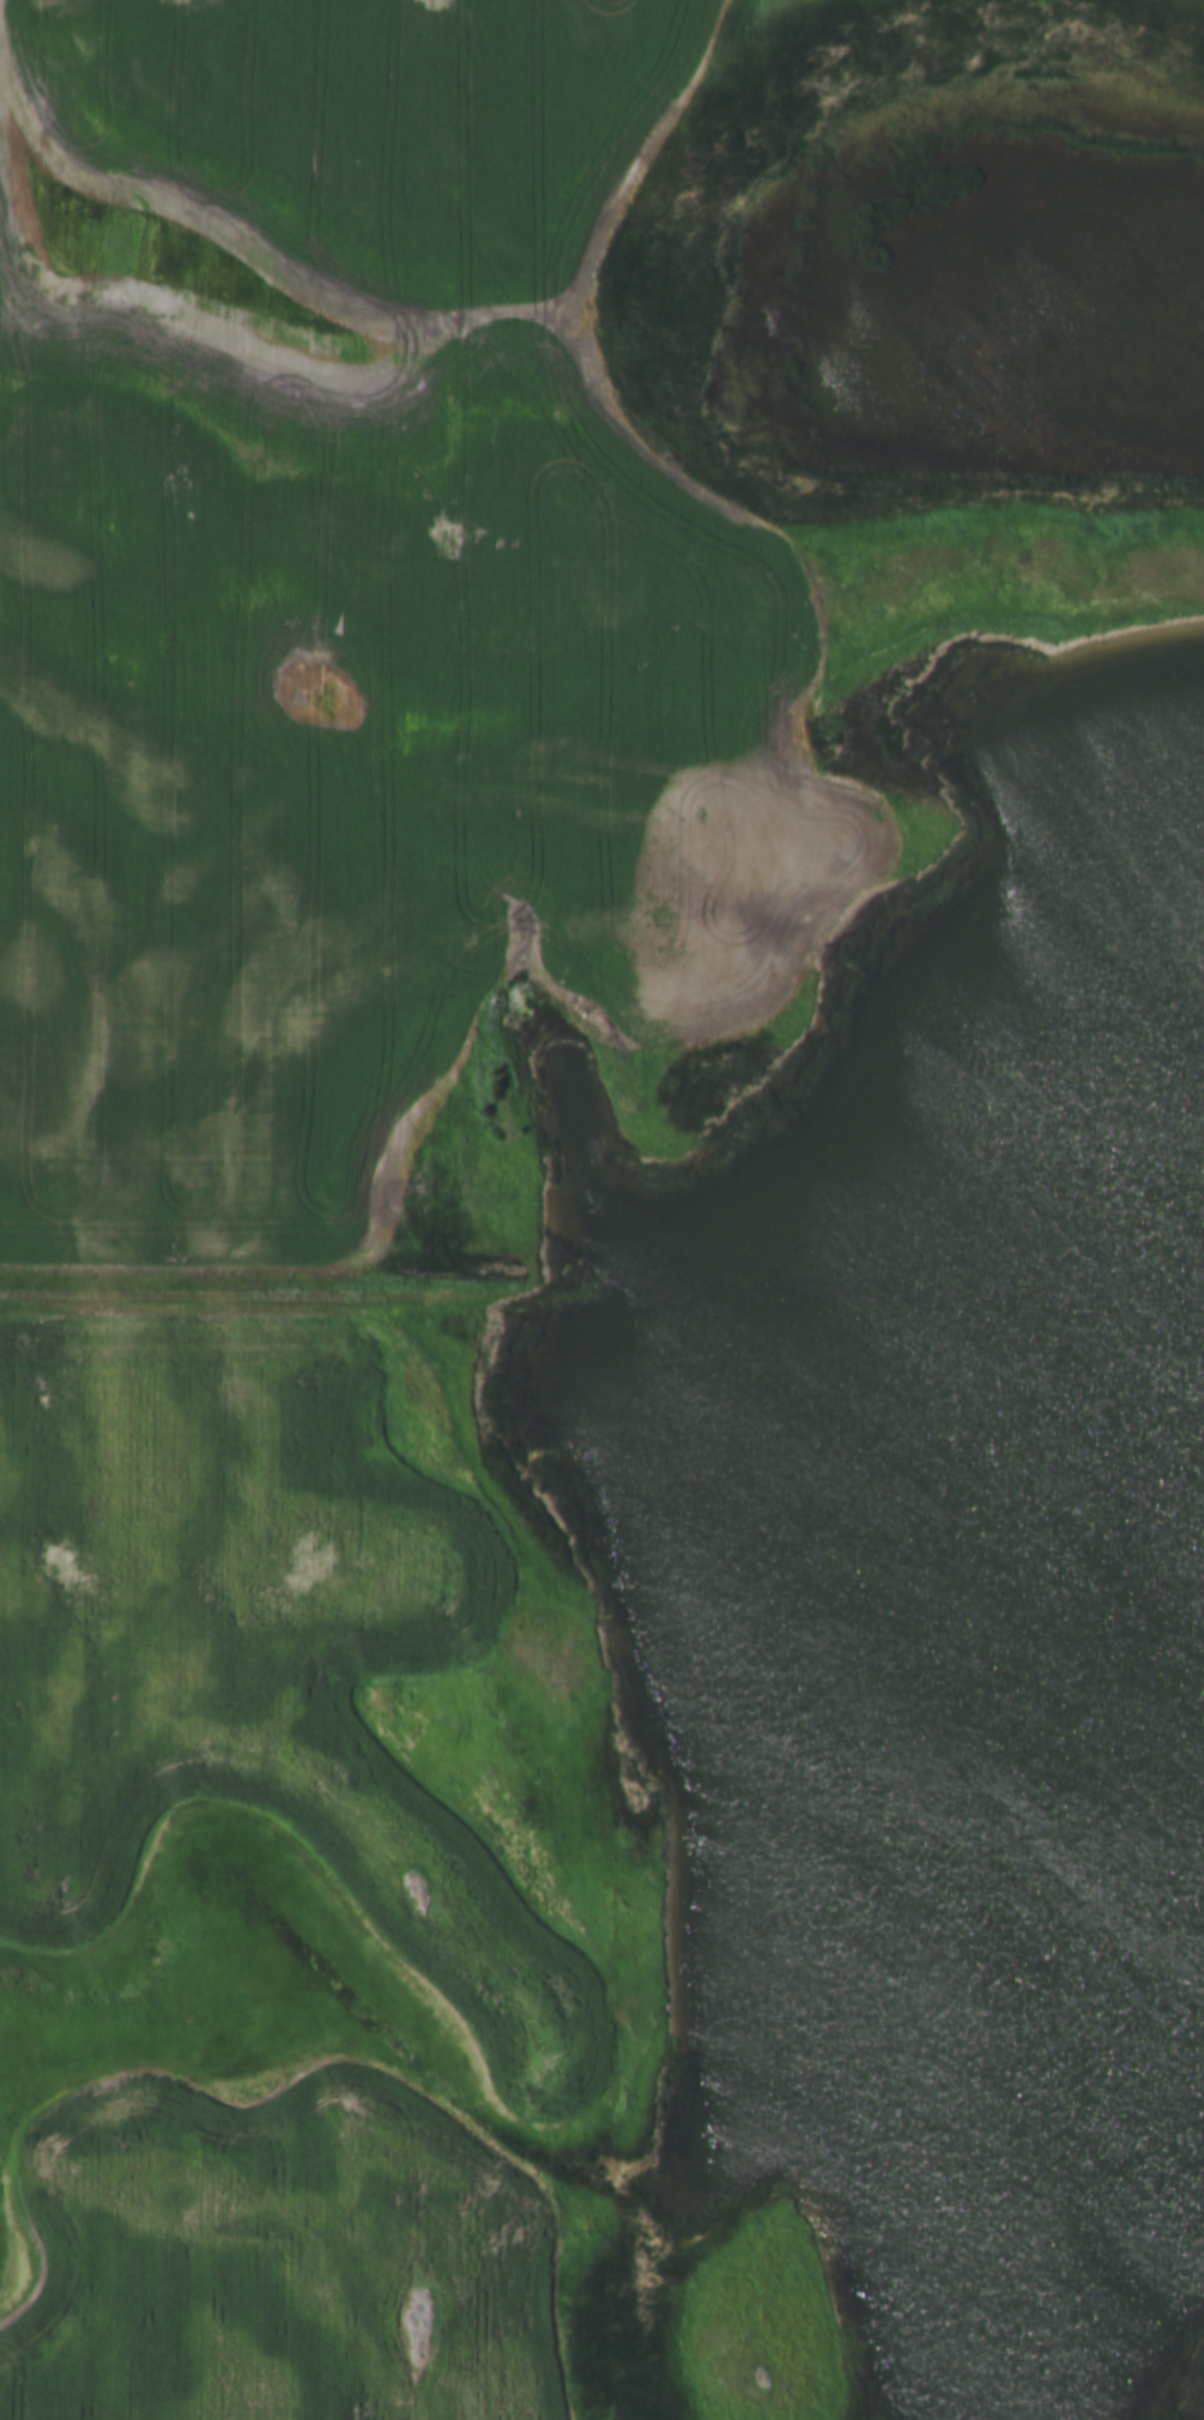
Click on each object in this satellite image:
road: (211, 1294)

